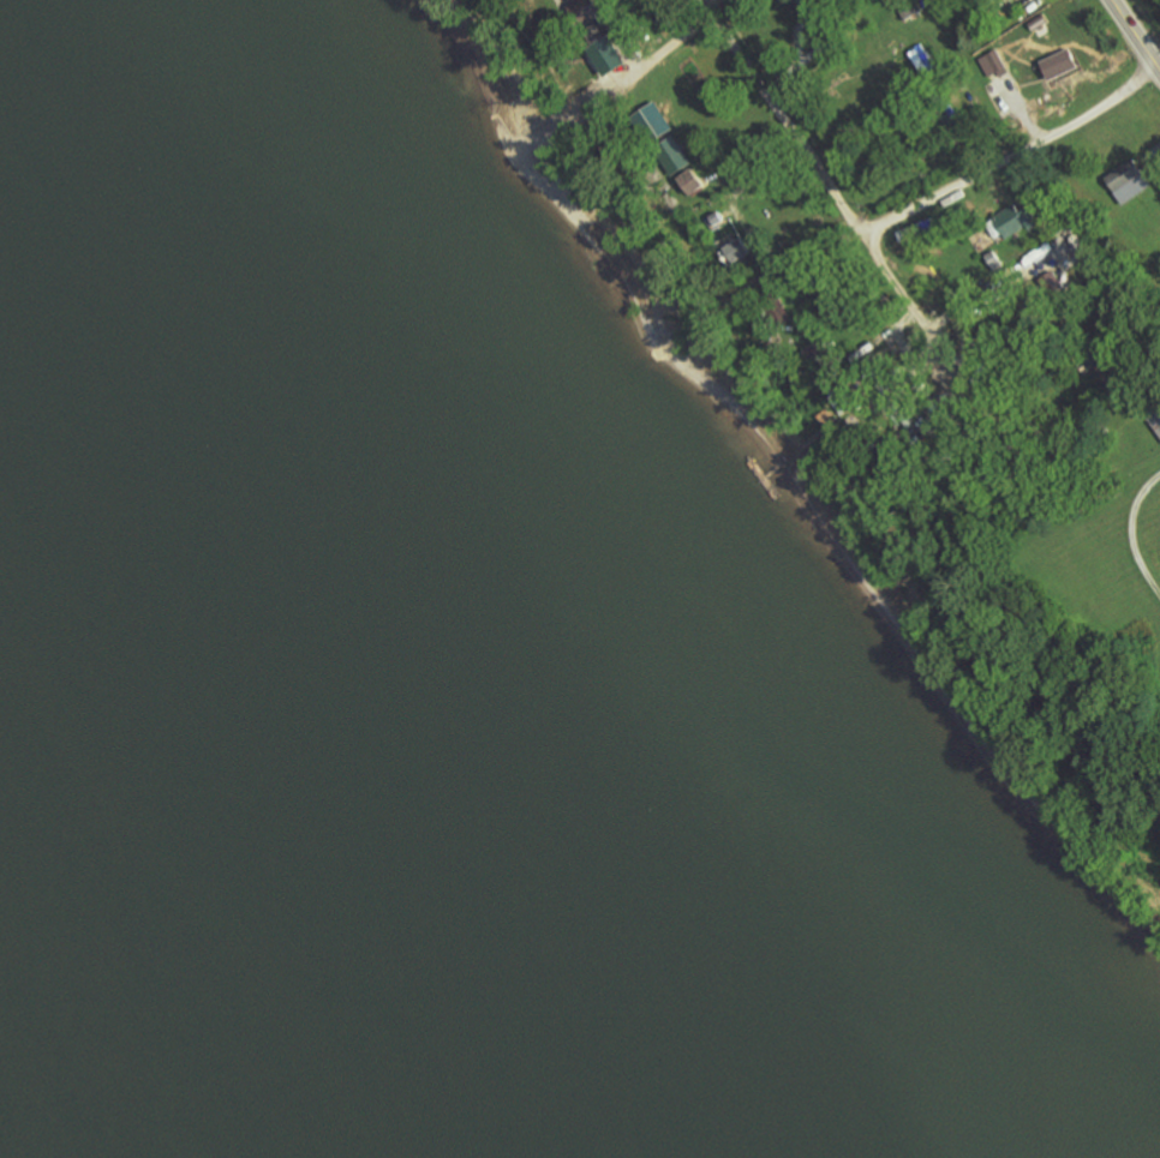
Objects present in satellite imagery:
building: (811, 0)
building: (584, 8)
road: (1135, 36)
road: (596, 40)
road: (665, 47)
building: (604, 49)
building: (993, 64)
building: (1062, 65)
building: (656, 120)
road: (784, 121)
building: (674, 156)
road: (970, 174)
building: (692, 181)
building: (1129, 181)
building: (1015, 220)
building: (739, 250)
building: (841, 401)
pier: (753, 487)
road: (1130, 533)
river: (151, 952)

